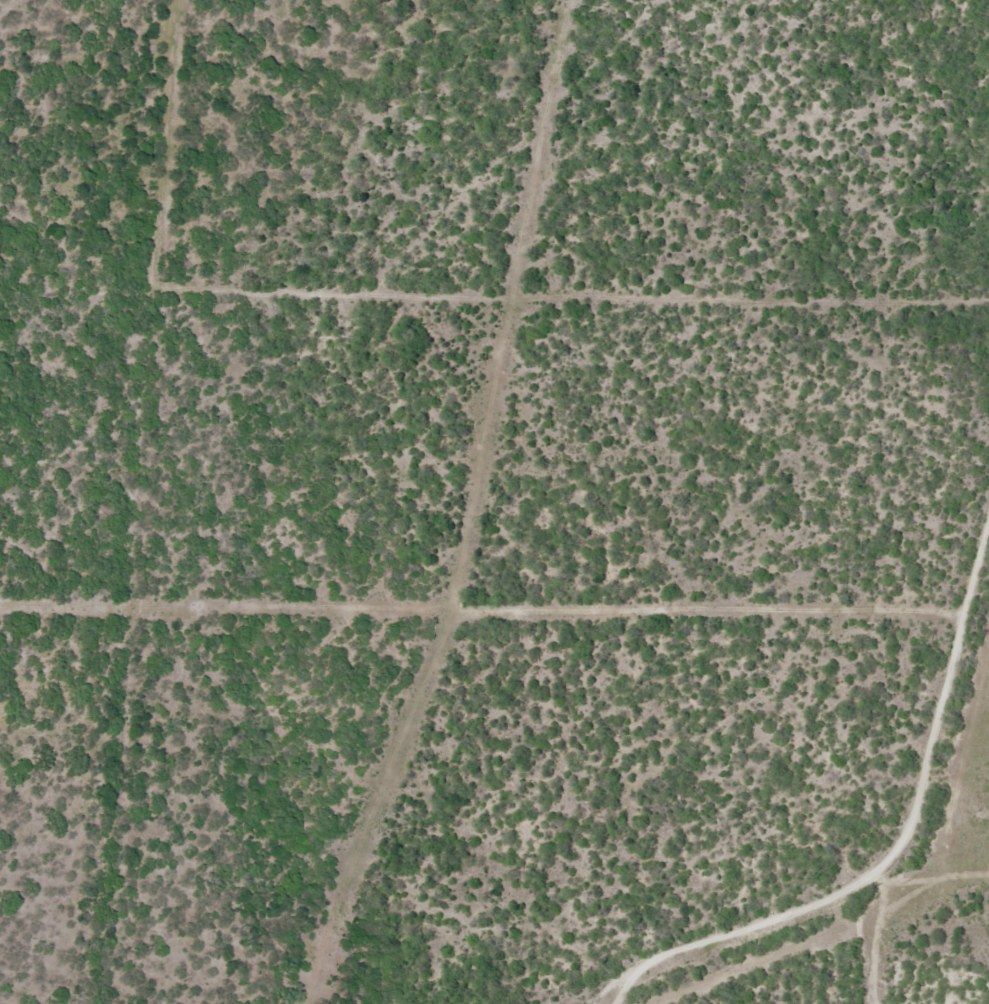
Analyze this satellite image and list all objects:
road: (898, 843)

